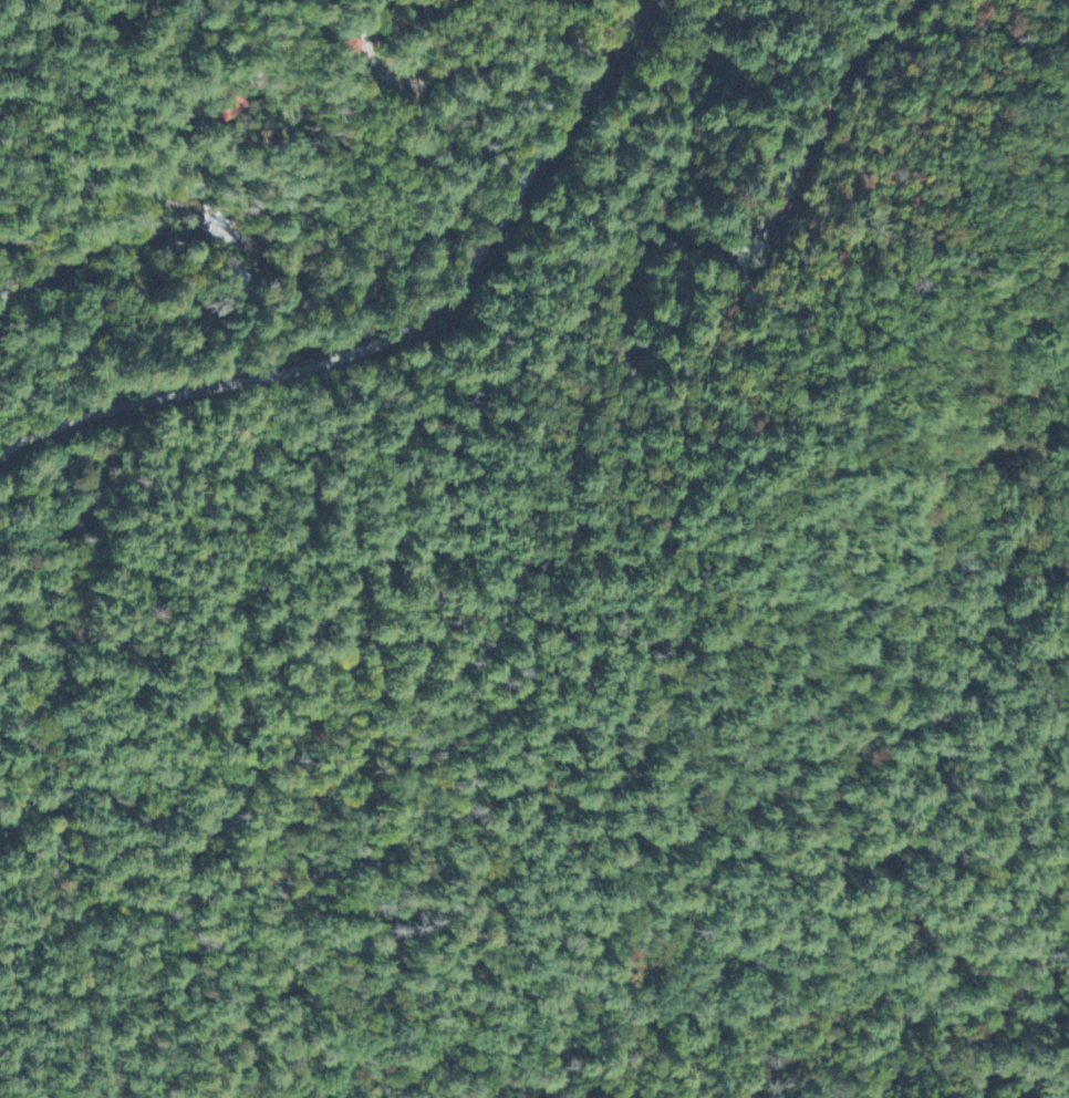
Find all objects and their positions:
building: (744, 253)
road: (394, 332)

